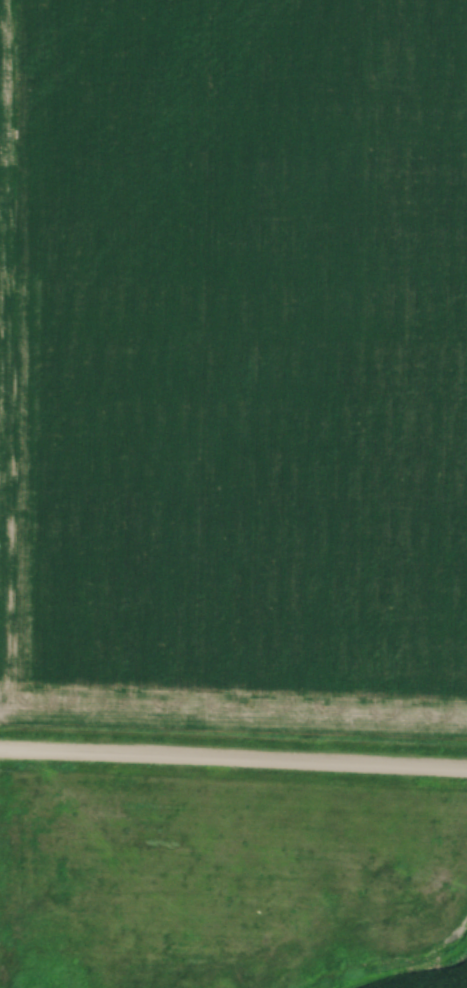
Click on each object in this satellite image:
road: (233, 763)

